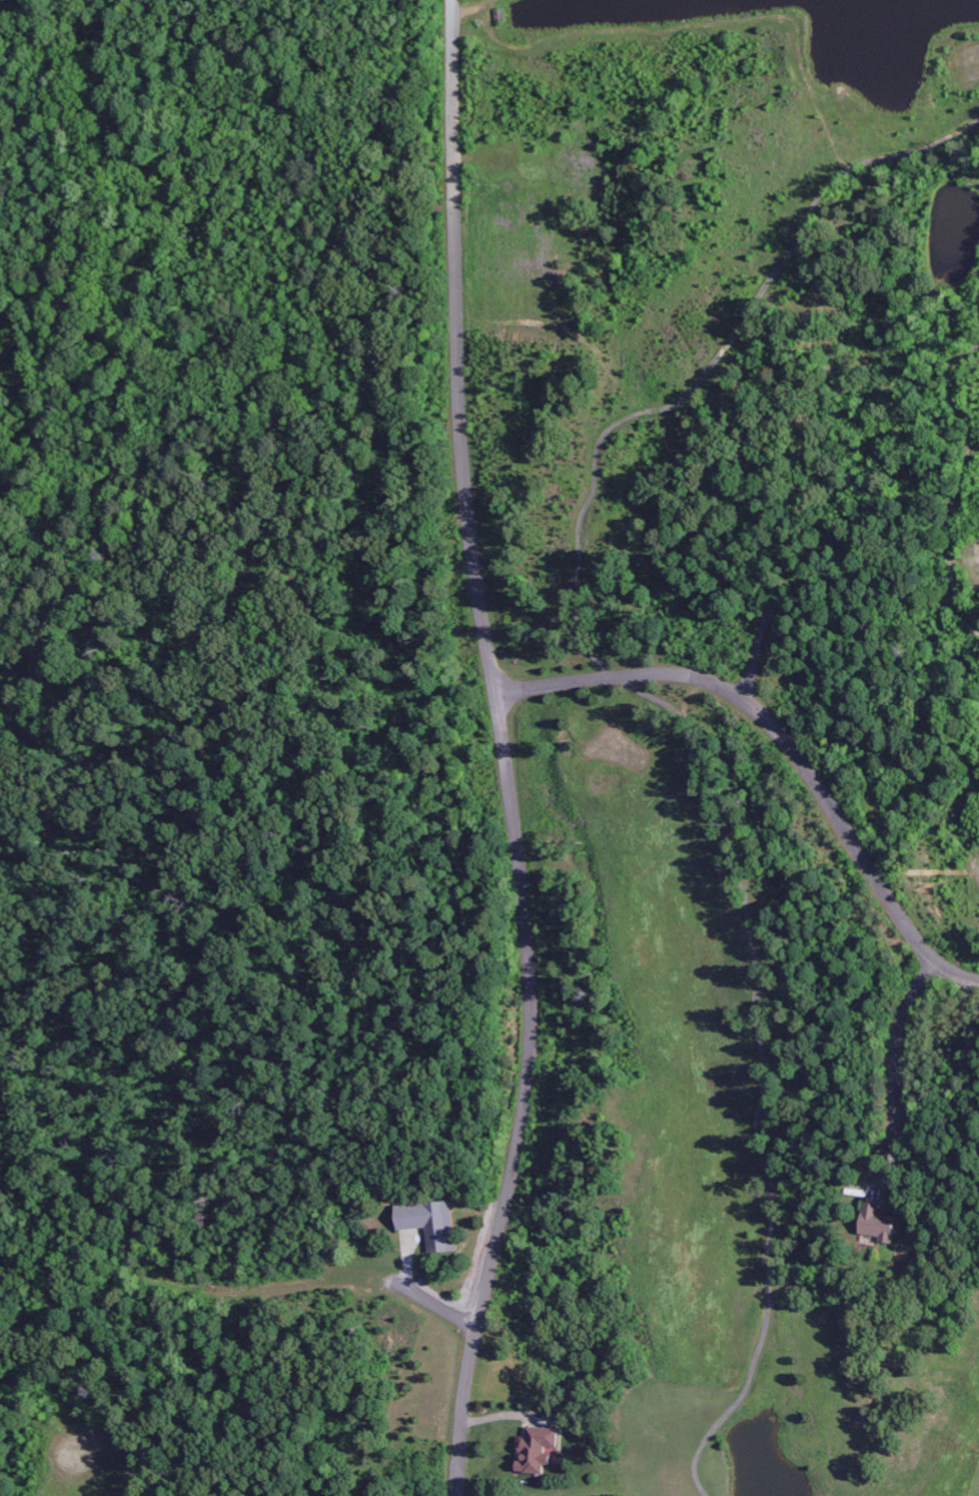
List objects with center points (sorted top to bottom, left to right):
road: (782, 742)
road: (501, 750)
road: (896, 1041)
building: (875, 1222)
building: (428, 1223)
road: (435, 1304)
building: (536, 1449)

